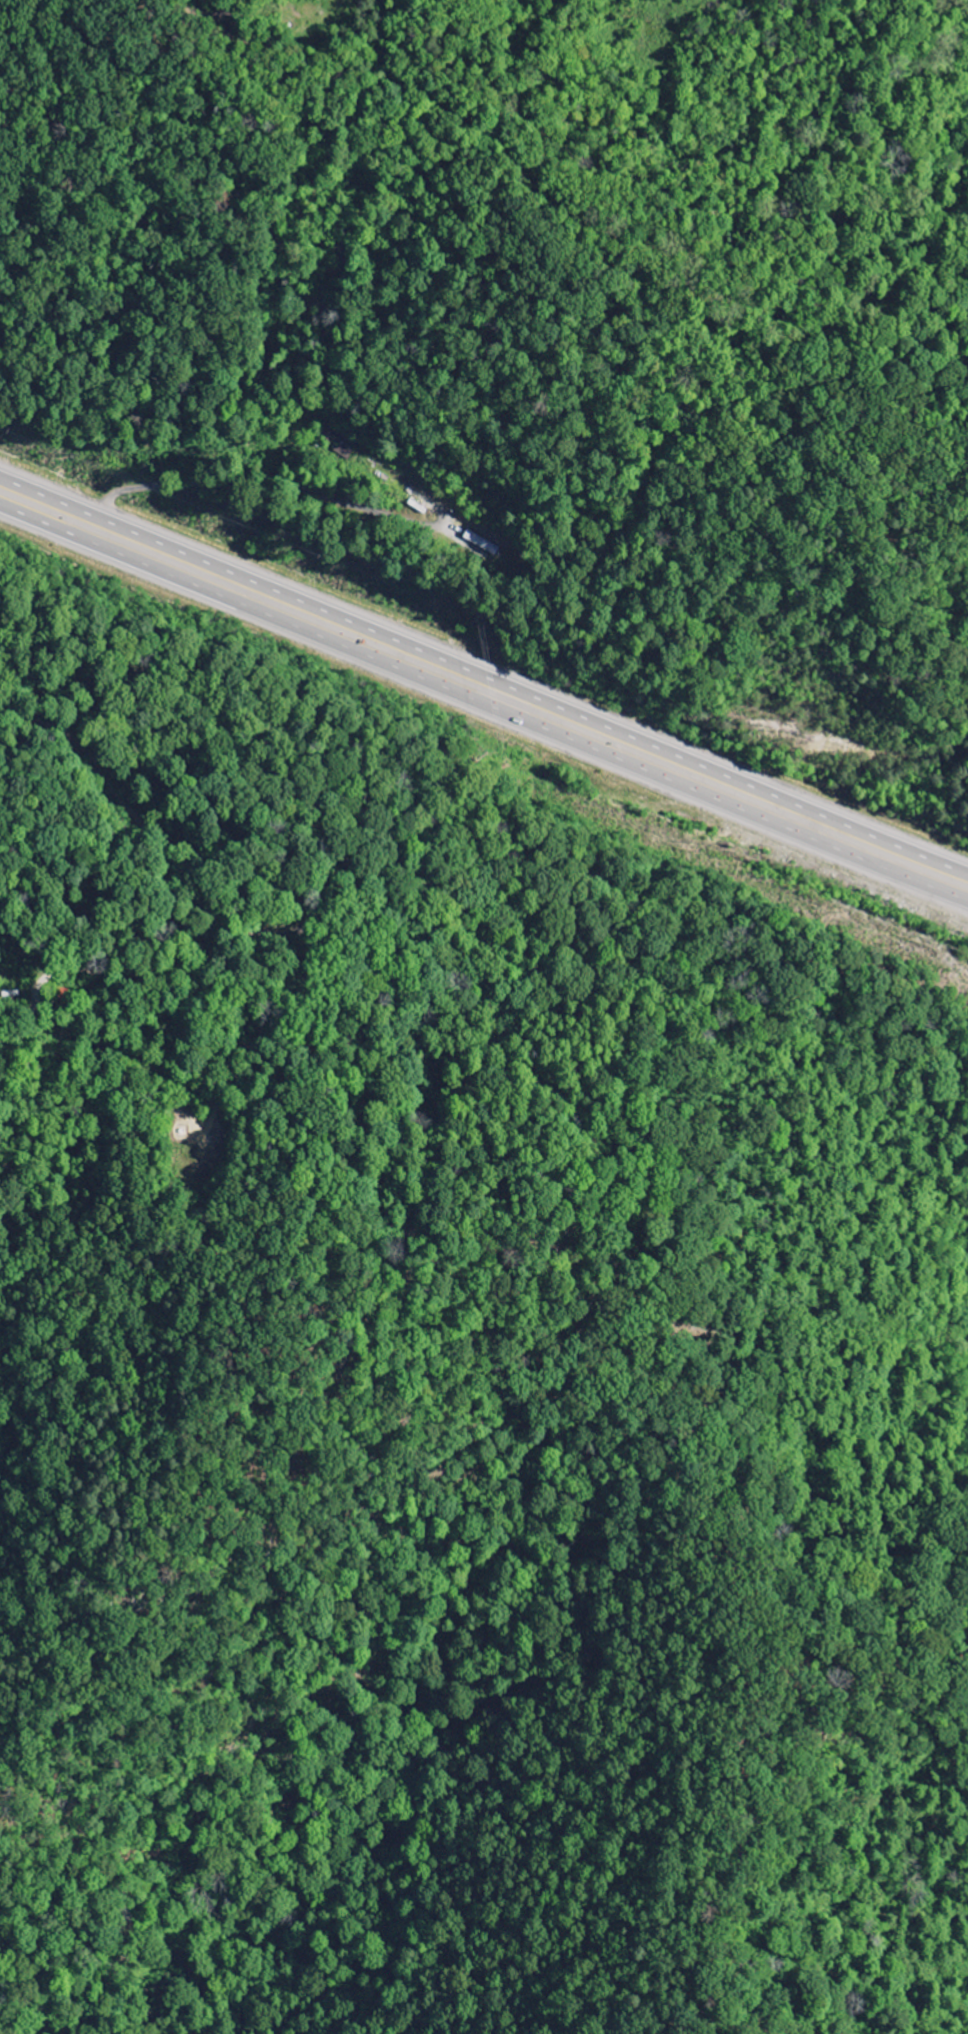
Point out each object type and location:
road: (483, 676)
road: (483, 706)

